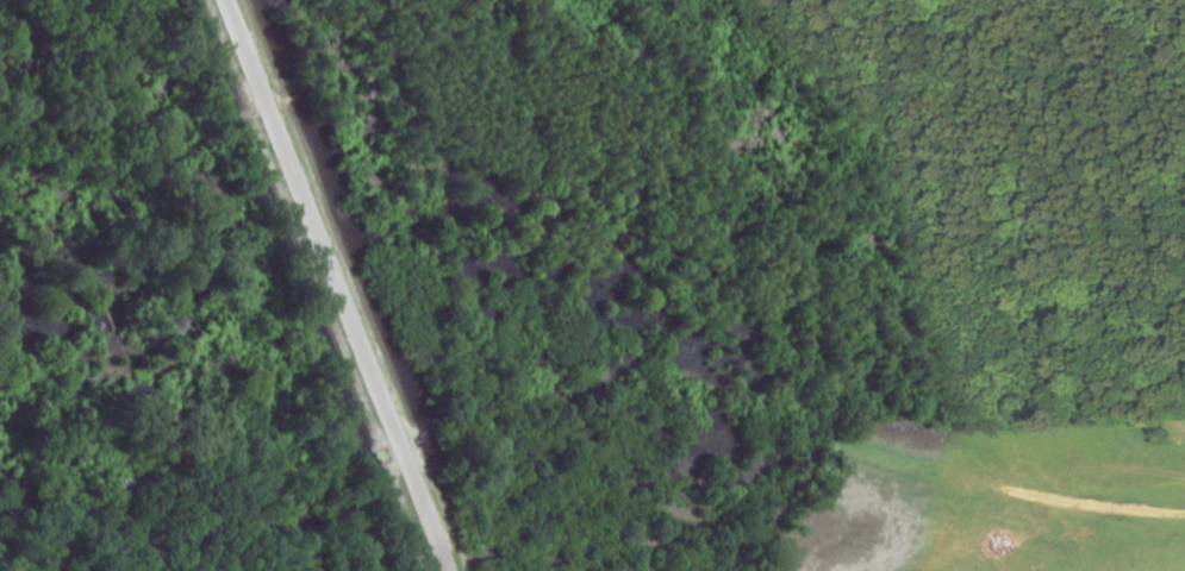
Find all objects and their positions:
road: (335, 284)

